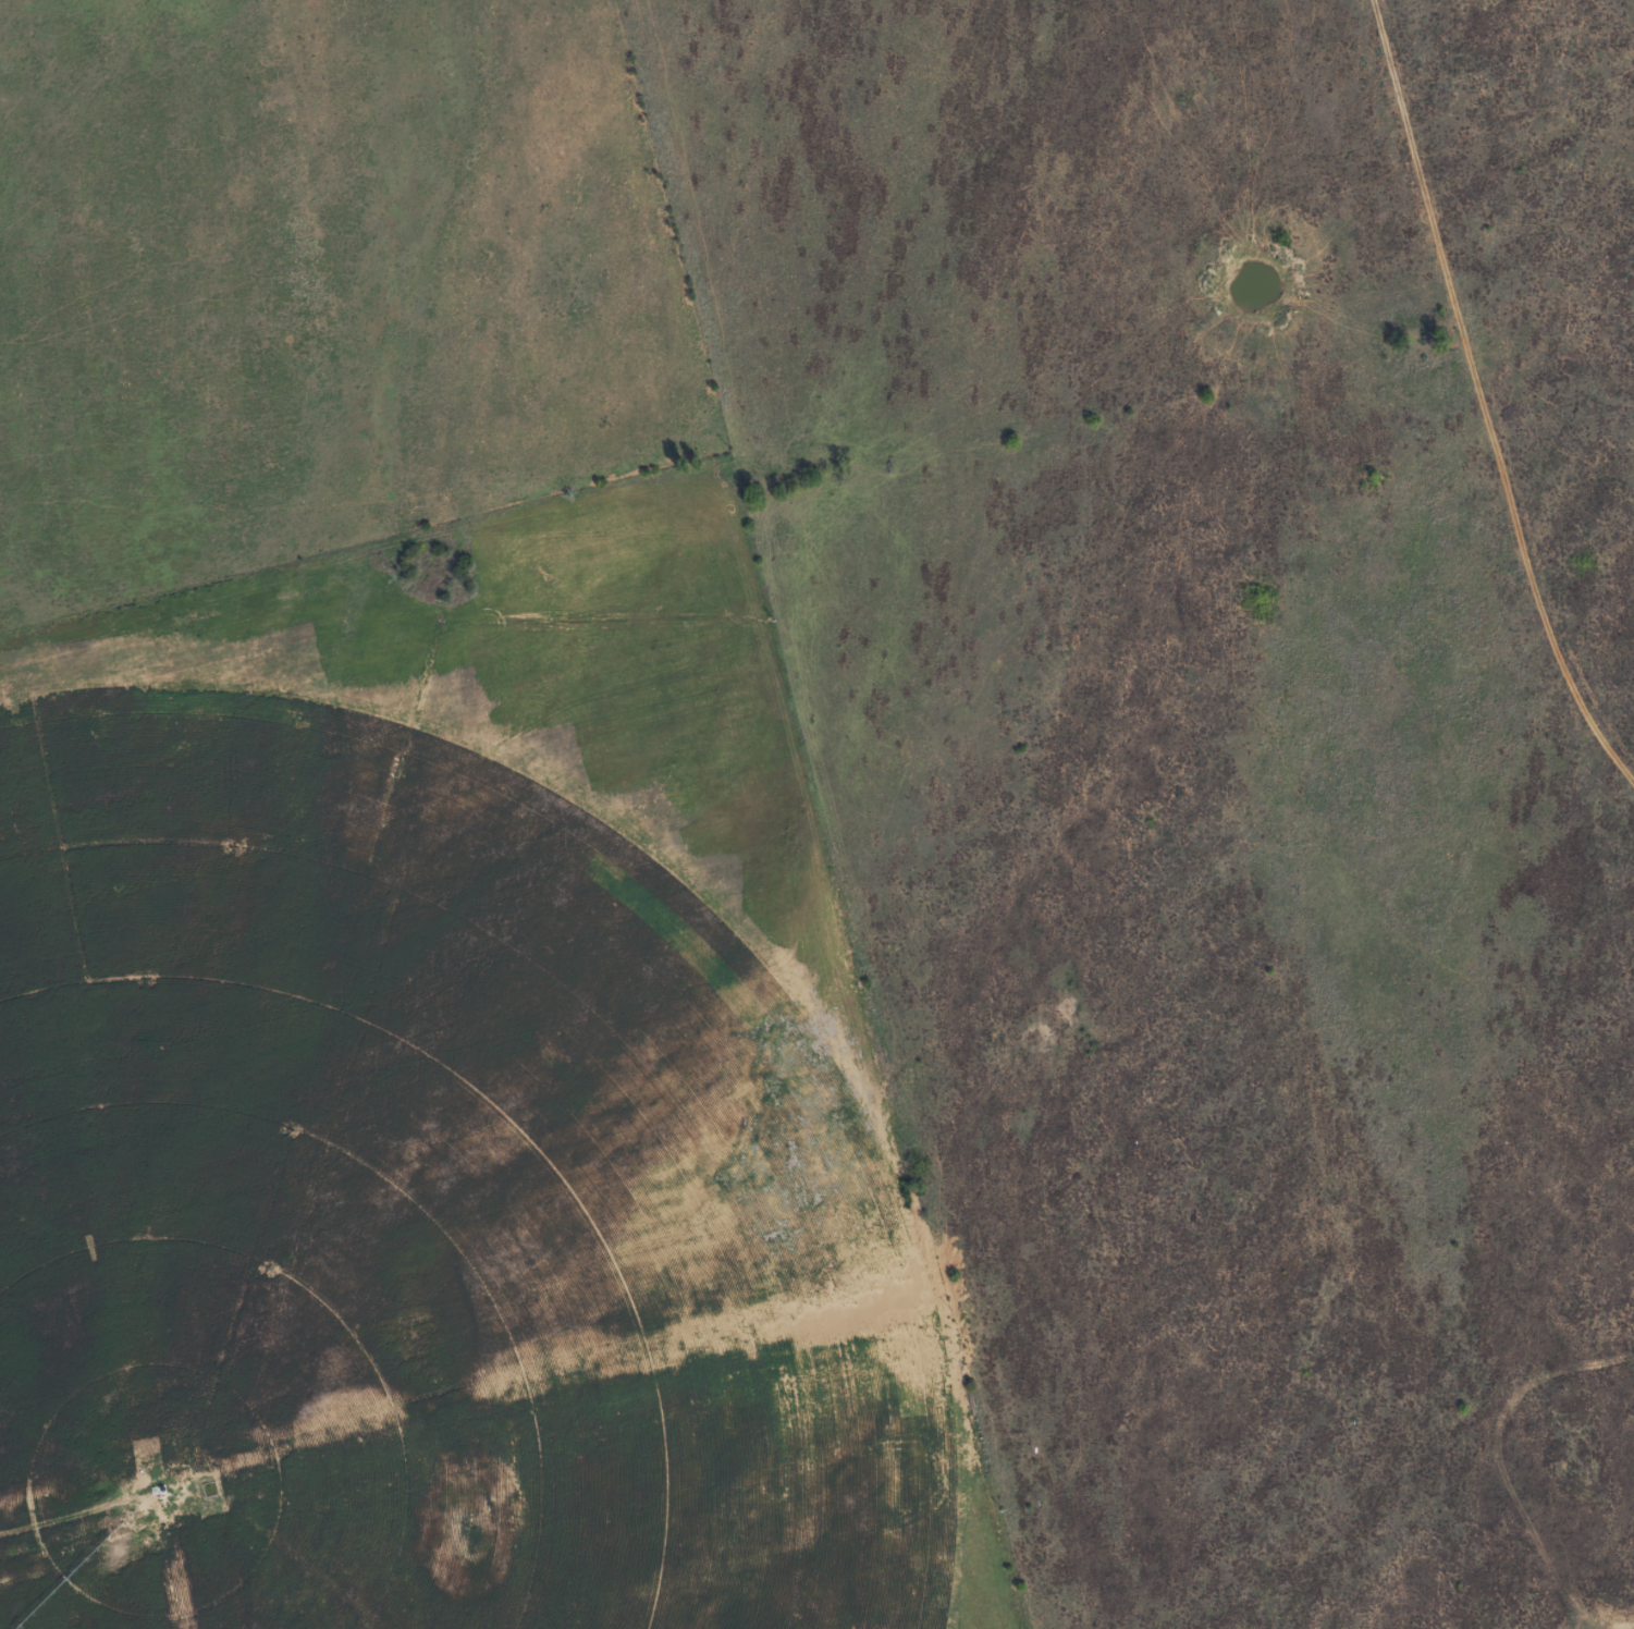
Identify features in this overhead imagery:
road: (1477, 405)
road: (1496, 1468)

